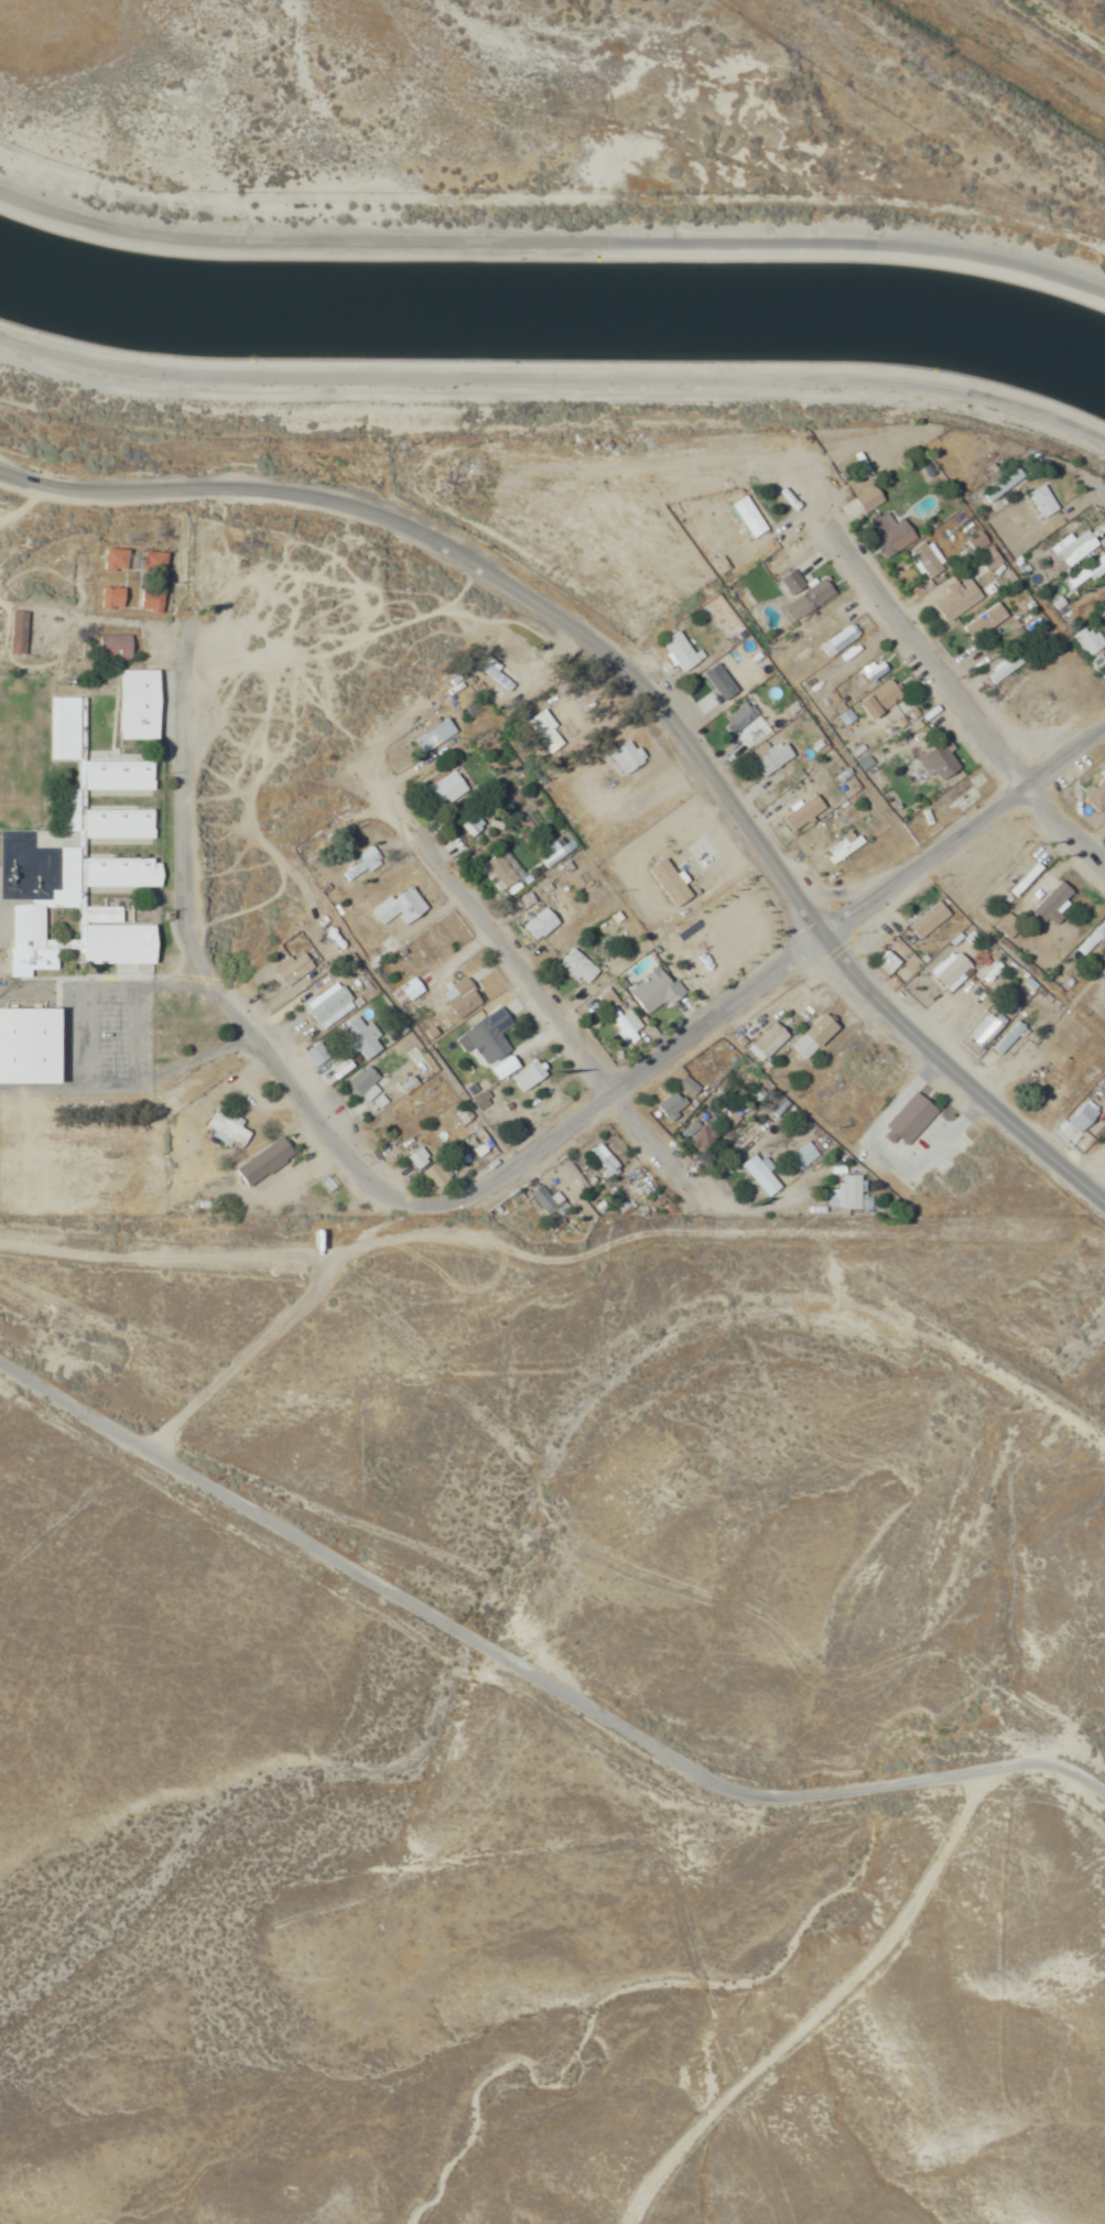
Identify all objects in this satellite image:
road: (551, 240)
road: (554, 393)
road: (90, 488)
building: (996, 488)
road: (1103, 492)
building: (865, 499)
building: (1037, 501)
building: (746, 516)
building: (886, 537)
building: (974, 541)
building: (1104, 550)
building: (108, 558)
building: (149, 560)
building: (986, 560)
building: (923, 561)
building: (1084, 570)
building: (789, 583)
building: (108, 598)
building: (955, 598)
building: (805, 601)
road: (737, 607)
building: (981, 622)
building: (14, 633)
building: (835, 641)
building: (1088, 643)
building: (111, 647)
building: (674, 651)
building: (735, 662)
building: (1003, 668)
building: (490, 673)
building: (866, 674)
building: (707, 689)
road: (962, 697)
building: (875, 700)
building: (133, 704)
building: (737, 716)
road: (675, 726)
building: (541, 732)
building: (431, 736)
building: (621, 757)
building: (768, 759)
building: (936, 763)
building: (833, 766)
building: (441, 788)
building: (1095, 796)
building: (955, 800)
building: (90, 810)
building: (466, 823)
building: (841, 848)
building: (356, 863)
building: (497, 871)
building: (1021, 878)
building: (1050, 902)
building: (393, 906)
building: (924, 920)
building: (535, 924)
building: (1091, 938)
building: (72, 939)
building: (961, 939)
road: (790, 960)
building: (881, 964)
building: (576, 967)
building: (286, 968)
building: (949, 971)
road: (218, 987)
building: (407, 989)
building: (651, 990)
building: (458, 998)
building: (326, 1006)
road: (560, 1023)
building: (621, 1024)
building: (983, 1029)
building: (485, 1036)
building: (810, 1036)
building: (358, 1037)
building: (1006, 1038)
building: (766, 1043)
building: (24, 1045)
building: (858, 1054)
building: (527, 1075)
building: (686, 1086)
building: (364, 1089)
building: (1058, 1095)
building: (669, 1106)
building: (908, 1120)
building: (225, 1129)
building: (698, 1138)
building: (477, 1144)
building: (800, 1156)
building: (414, 1157)
building: (600, 1159)
building: (260, 1163)
building: (757, 1175)
building: (432, 1176)
road: (1075, 1177)
building: (842, 1194)
building: (539, 1198)
road: (75, 1407)
road: (75, 1521)
road: (607, 1721)

